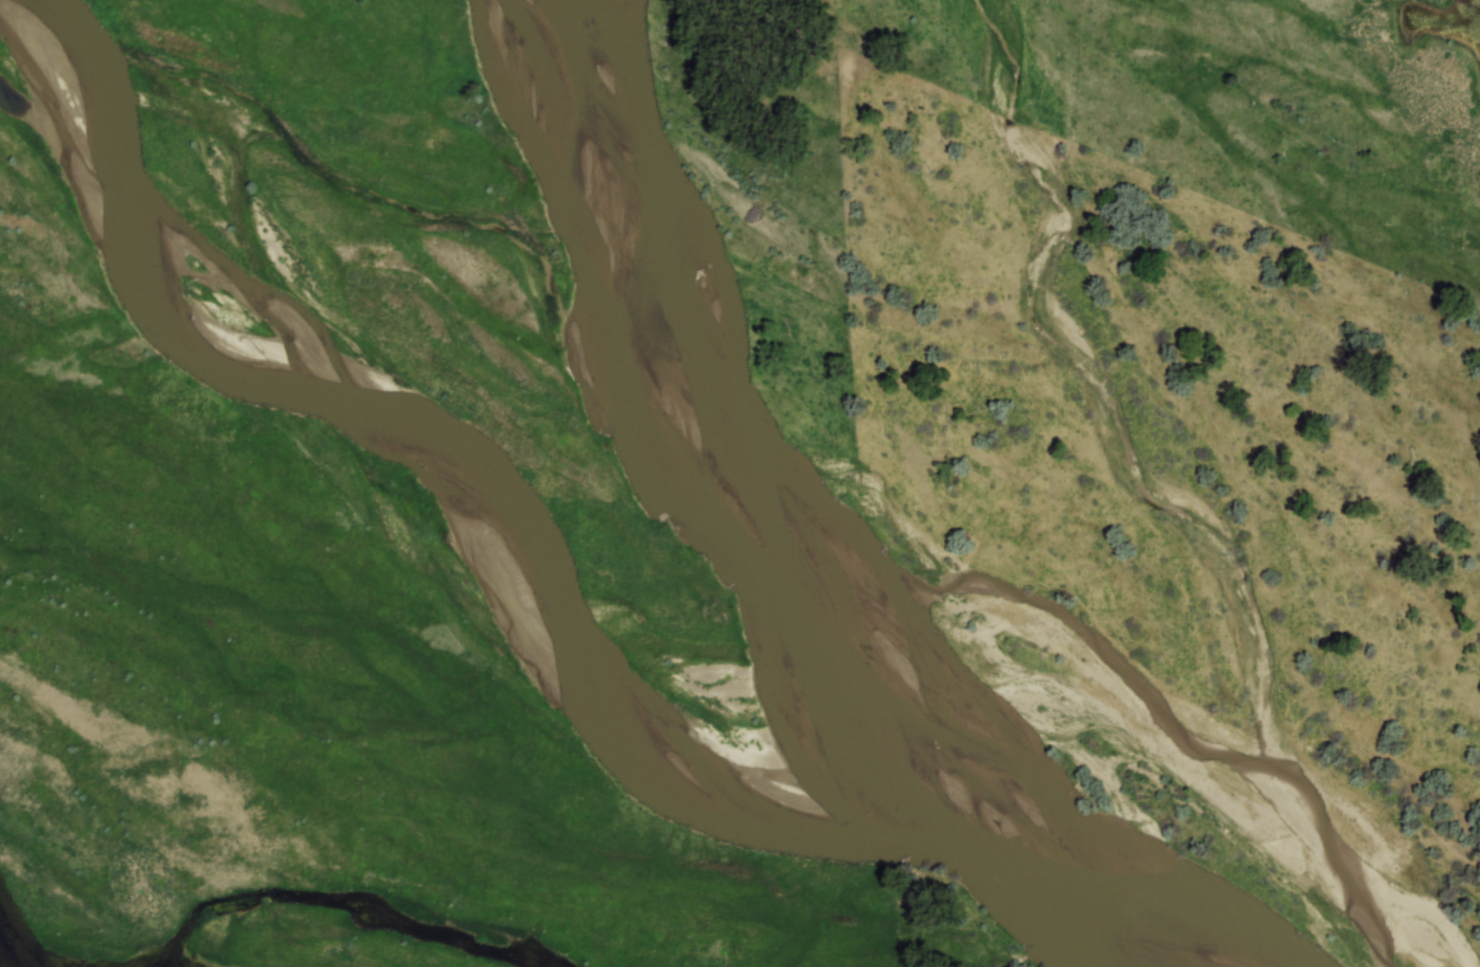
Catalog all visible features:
river: (768, 538)

